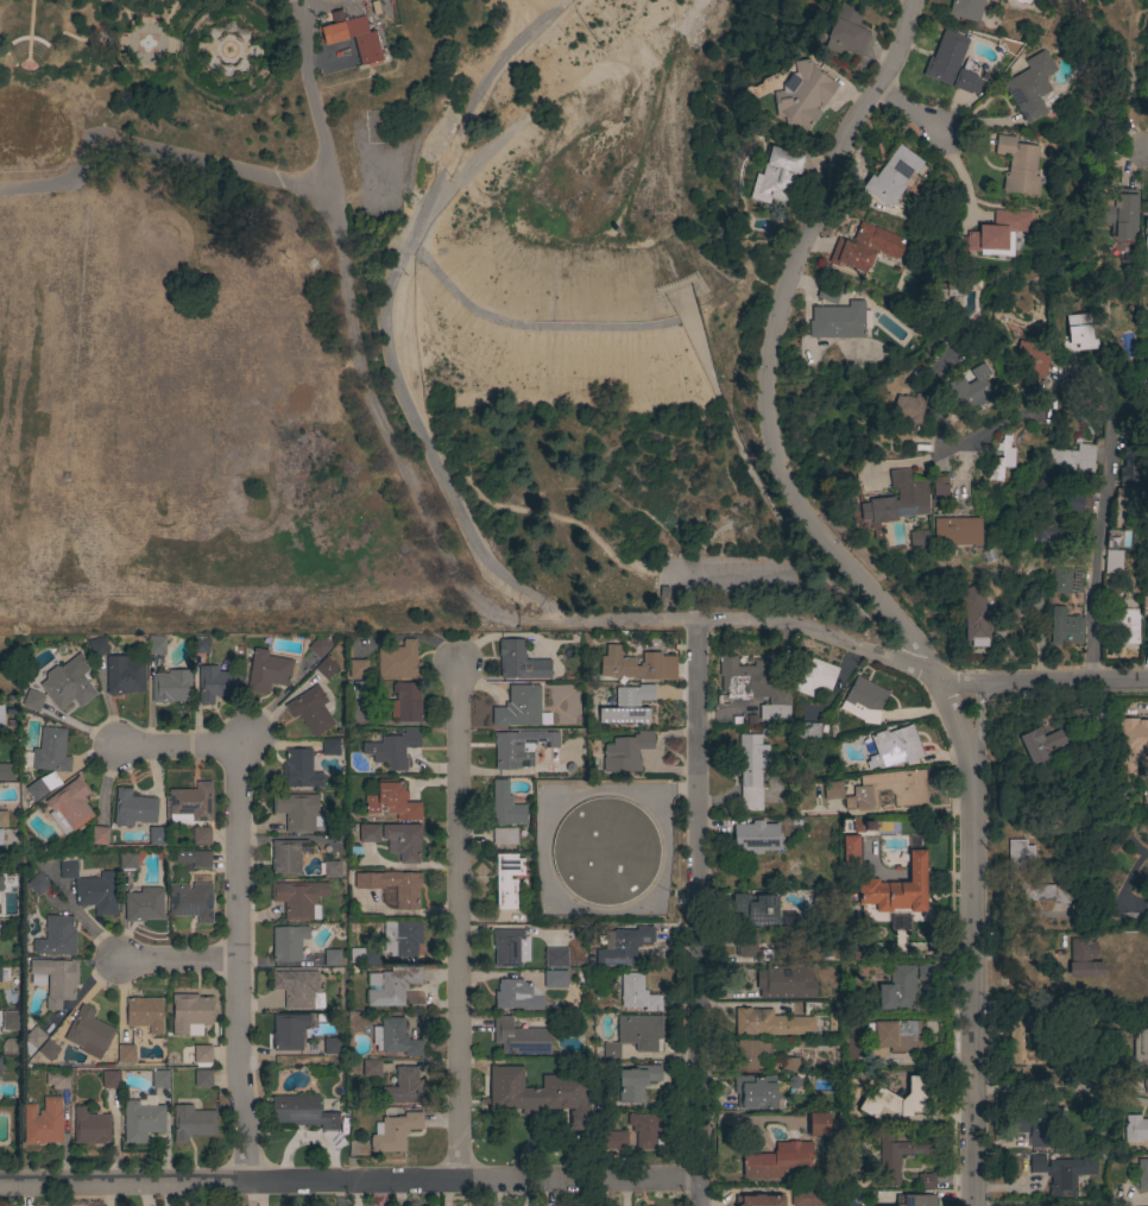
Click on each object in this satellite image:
building: (997, 0)
building: (965, 8)
building: (846, 30)
road: (299, 36)
building: (352, 36)
building: (952, 64)
building: (1029, 88)
building: (801, 95)
road: (910, 113)
road: (1144, 151)
road: (151, 154)
building: (1016, 165)
building: (775, 176)
building: (891, 178)
building: (1118, 215)
building: (1144, 232)
building: (996, 233)
road: (414, 234)
building: (865, 248)
building: (830, 293)
building: (947, 293)
building: (837, 321)
dam: (525, 324)
building: (1077, 337)
building: (970, 348)
road: (769, 352)
building: (1029, 359)
road: (366, 366)
building: (966, 390)
building: (906, 409)
road: (1023, 410)
building: (1072, 460)
building: (998, 461)
building: (1129, 466)
building: (936, 492)
building: (895, 500)
building: (1074, 504)
building: (1049, 524)
road: (579, 529)
road: (1098, 529)
building: (953, 531)
building: (915, 538)
building: (1112, 562)
road: (709, 573)
road: (503, 574)
parking lot: (720, 575)
building: (1061, 581)
building: (971, 617)
building: (1146, 620)
building: (1121, 626)
building: (1065, 627)
building: (156, 645)
building: (97, 646)
building: (201, 646)
building: (320, 646)
road: (866, 650)
building: (398, 662)
building: (521, 662)
building: (618, 665)
building: (651, 665)
building: (326, 668)
building: (358, 670)
building: (266, 671)
building: (124, 675)
building: (739, 676)
building: (815, 678)
building: (68, 683)
building: (216, 684)
building: (171, 686)
building: (361, 690)
building: (864, 700)
building: (33, 701)
building: (405, 702)
building: (627, 705)
building: (776, 706)
building: (521, 708)
building: (0, 711)
building: (310, 711)
building: (1077, 718)
road: (976, 721)
building: (807, 731)
building: (1040, 744)
building: (896, 746)
building: (330, 747)
building: (519, 747)
building: (1129, 747)
building: (392, 749)
building: (48, 752)
building: (625, 752)
building: (299, 769)
building: (751, 770)
building: (6, 772)
building: (42, 785)
building: (832, 790)
building: (888, 790)
building: (391, 801)
building: (191, 802)
building: (69, 806)
building: (505, 806)
building: (133, 808)
building: (297, 810)
building: (2, 819)
building: (863, 826)
building: (368, 833)
building: (99, 835)
building: (156, 835)
building: (201, 836)
building: (504, 836)
building: (756, 836)
building: (2, 838)
building: (1116, 838)
building: (403, 841)
building: (605, 851)
storage tank: (605, 851)
building: (850, 851)
building: (286, 858)
building: (194, 859)
building: (128, 860)
building: (68, 866)
building: (332, 870)
building: (1024, 872)
building: (506, 879)
building: (1, 883)
building: (37, 885)
building: (897, 889)
building: (96, 892)
building: (1060, 894)
building: (191, 898)
building: (298, 899)
building: (406, 899)
building: (144, 905)
road: (235, 905)
building: (755, 909)
road: (698, 913)
road: (1077, 921)
road: (456, 924)
building: (56, 936)
road: (971, 937)
building: (400, 939)
building: (290, 943)
building: (746, 943)
building: (623, 946)
building: (509, 947)
building: (364, 955)
building: (1084, 956)
building: (332, 958)
building: (556, 958)
road: (174, 959)
building: (554, 979)
building: (55, 980)
building: (783, 981)
building: (391, 985)
building: (902, 986)
building: (298, 989)
building: (637, 993)
building: (517, 996)
building: (144, 1014)
building: (190, 1015)
building: (771, 1023)
building: (289, 1031)
building: (638, 1031)
building: (88, 1033)
building: (34, 1037)
building: (519, 1037)
building: (891, 1037)
building: (395, 1040)
building: (1024, 1043)
building: (1140, 1044)
building: (332, 1046)
building: (48, 1049)
building: (611, 1050)
building: (126, 1054)
building: (750, 1054)
building: (202, 1055)
building: (789, 1065)
building: (0, 1068)
building: (371, 1069)
building: (203, 1079)
building: (57, 1080)
building: (109, 1080)
building: (159, 1080)
building: (636, 1082)
road: (1055, 1086)
building: (404, 1088)
building: (532, 1092)
building: (755, 1092)
building: (898, 1099)
building: (302, 1112)
building: (143, 1119)
building: (44, 1123)
building: (191, 1123)
building: (818, 1124)
building: (1037, 1126)
building: (92, 1128)
building: (1135, 1129)
building: (644, 1130)
building: (395, 1132)
building: (612, 1141)
building: (896, 1155)
building: (780, 1162)
building: (1061, 1173)
building: (1142, 1174)
building: (926, 1181)
road: (349, 1183)
building: (806, 1196)
building: (758, 1200)
building: (914, 1200)
road: (1087, 1204)

